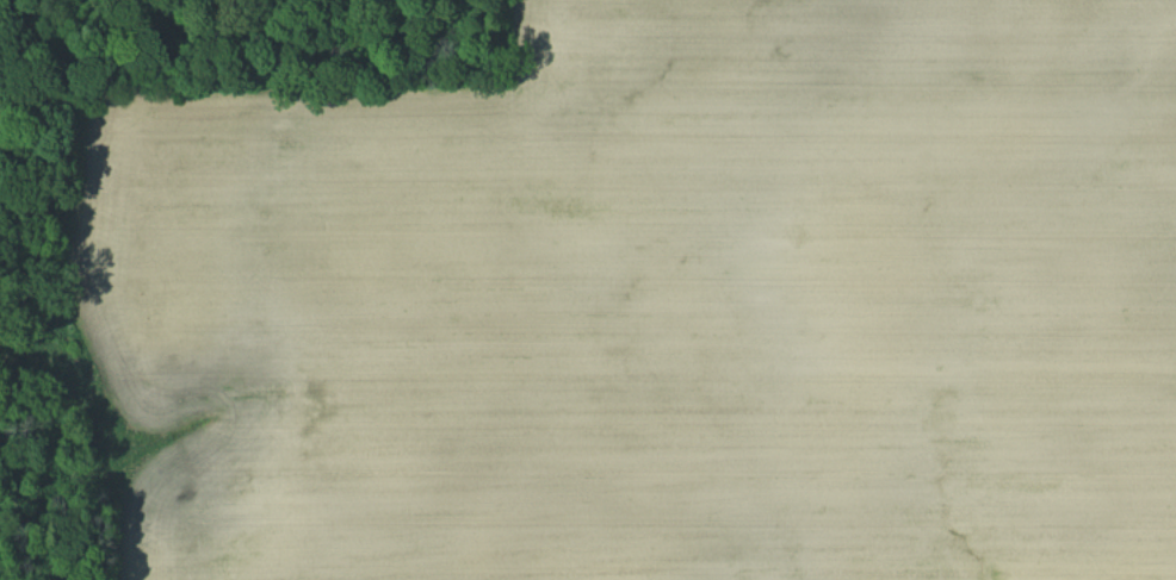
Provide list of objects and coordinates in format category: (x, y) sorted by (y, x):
crop: (658, 304)

